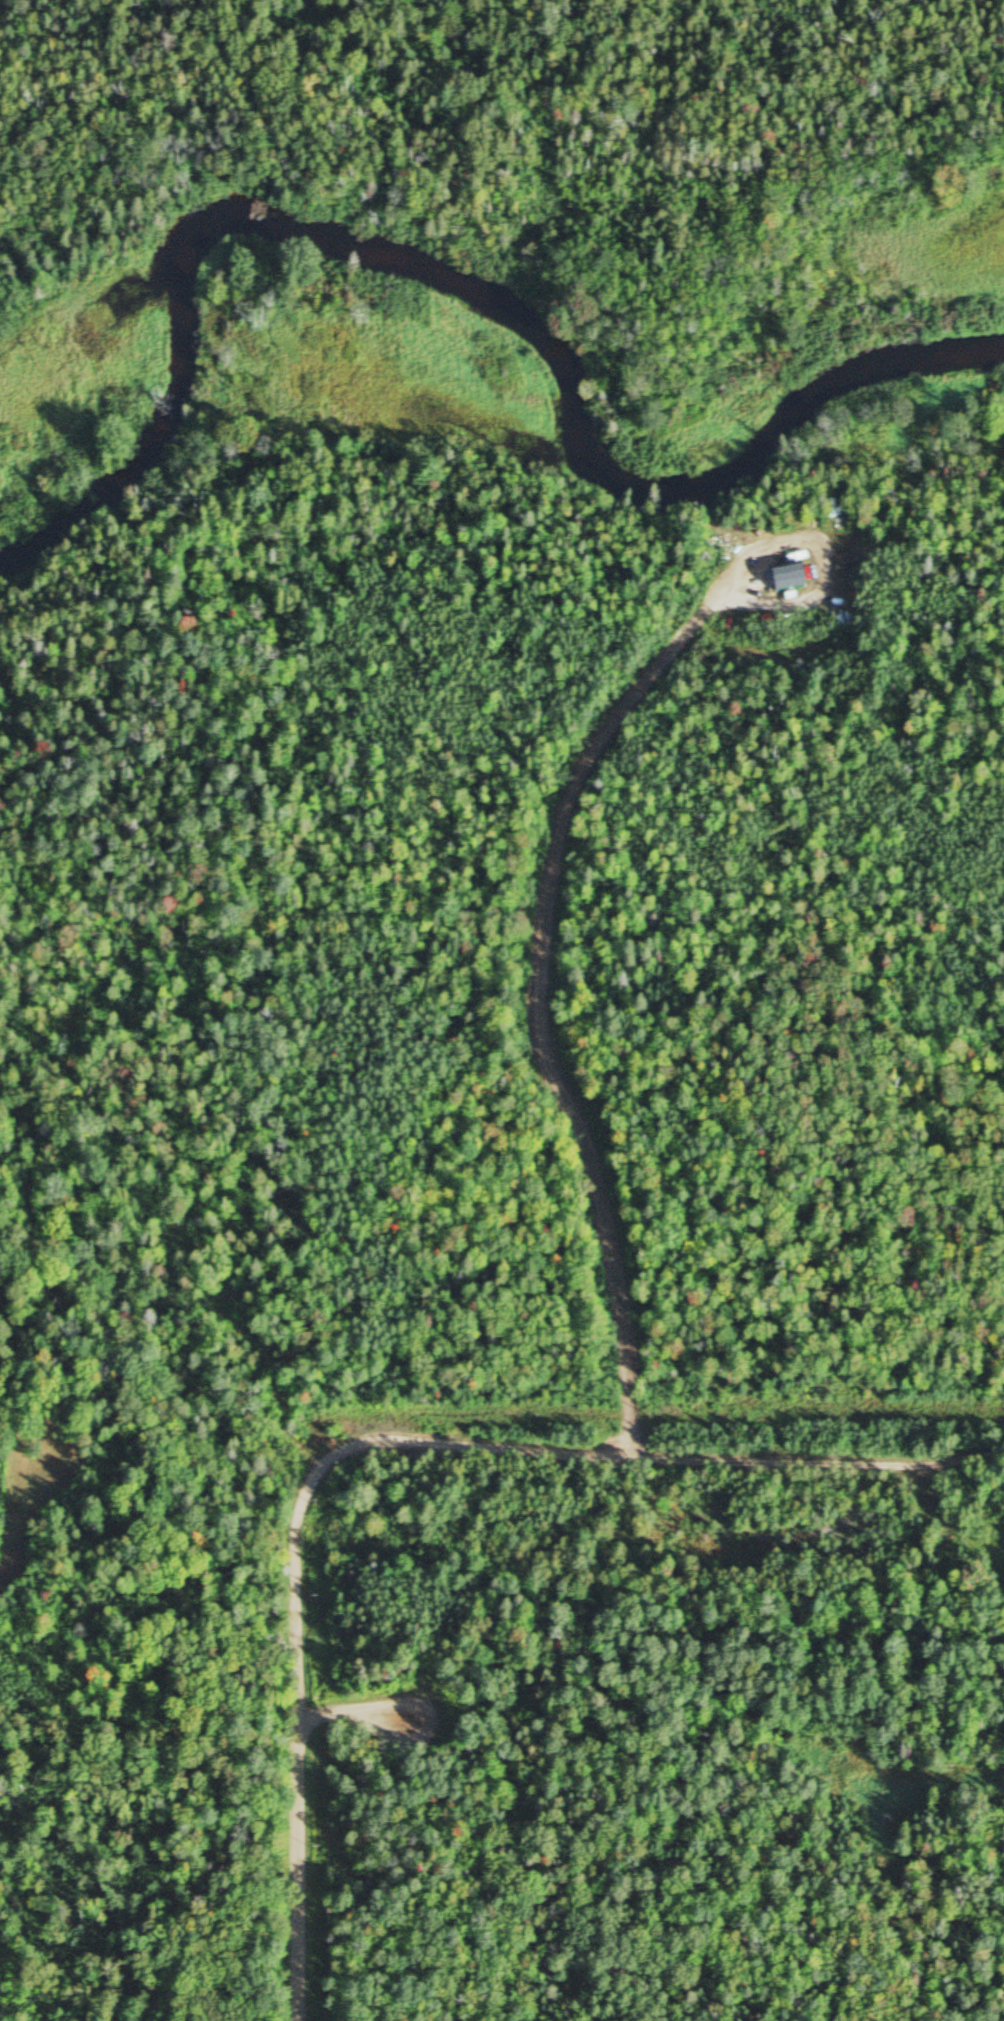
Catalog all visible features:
river: (466, 288)
road: (627, 1451)
road: (305, 1775)

